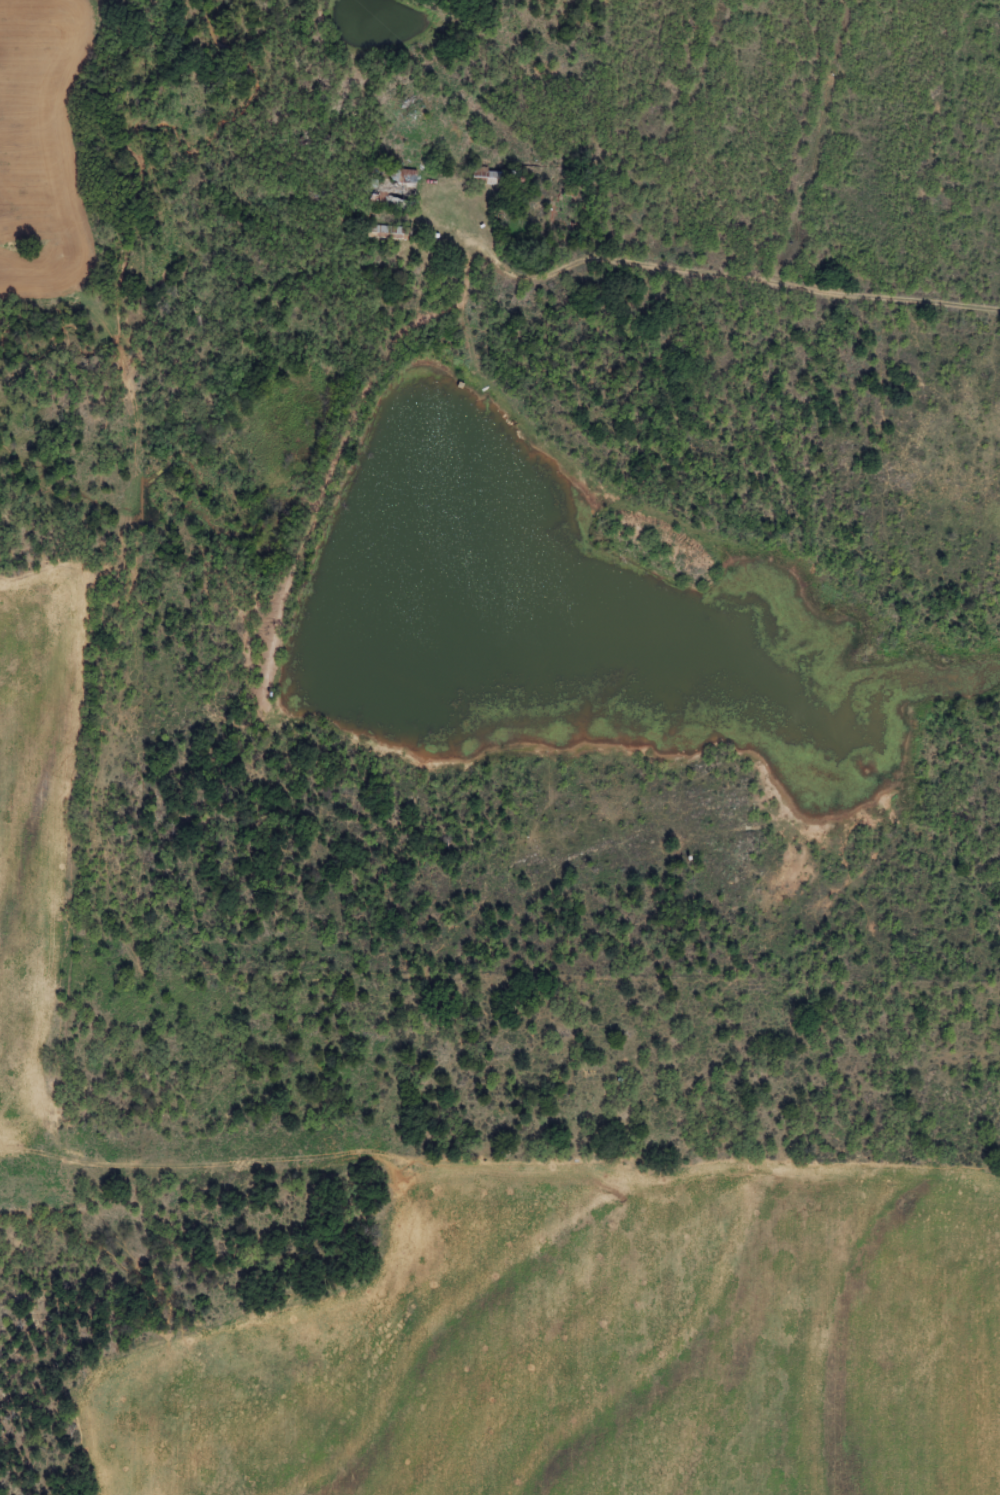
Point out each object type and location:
building: (399, 180)
building: (383, 232)
road: (754, 282)

